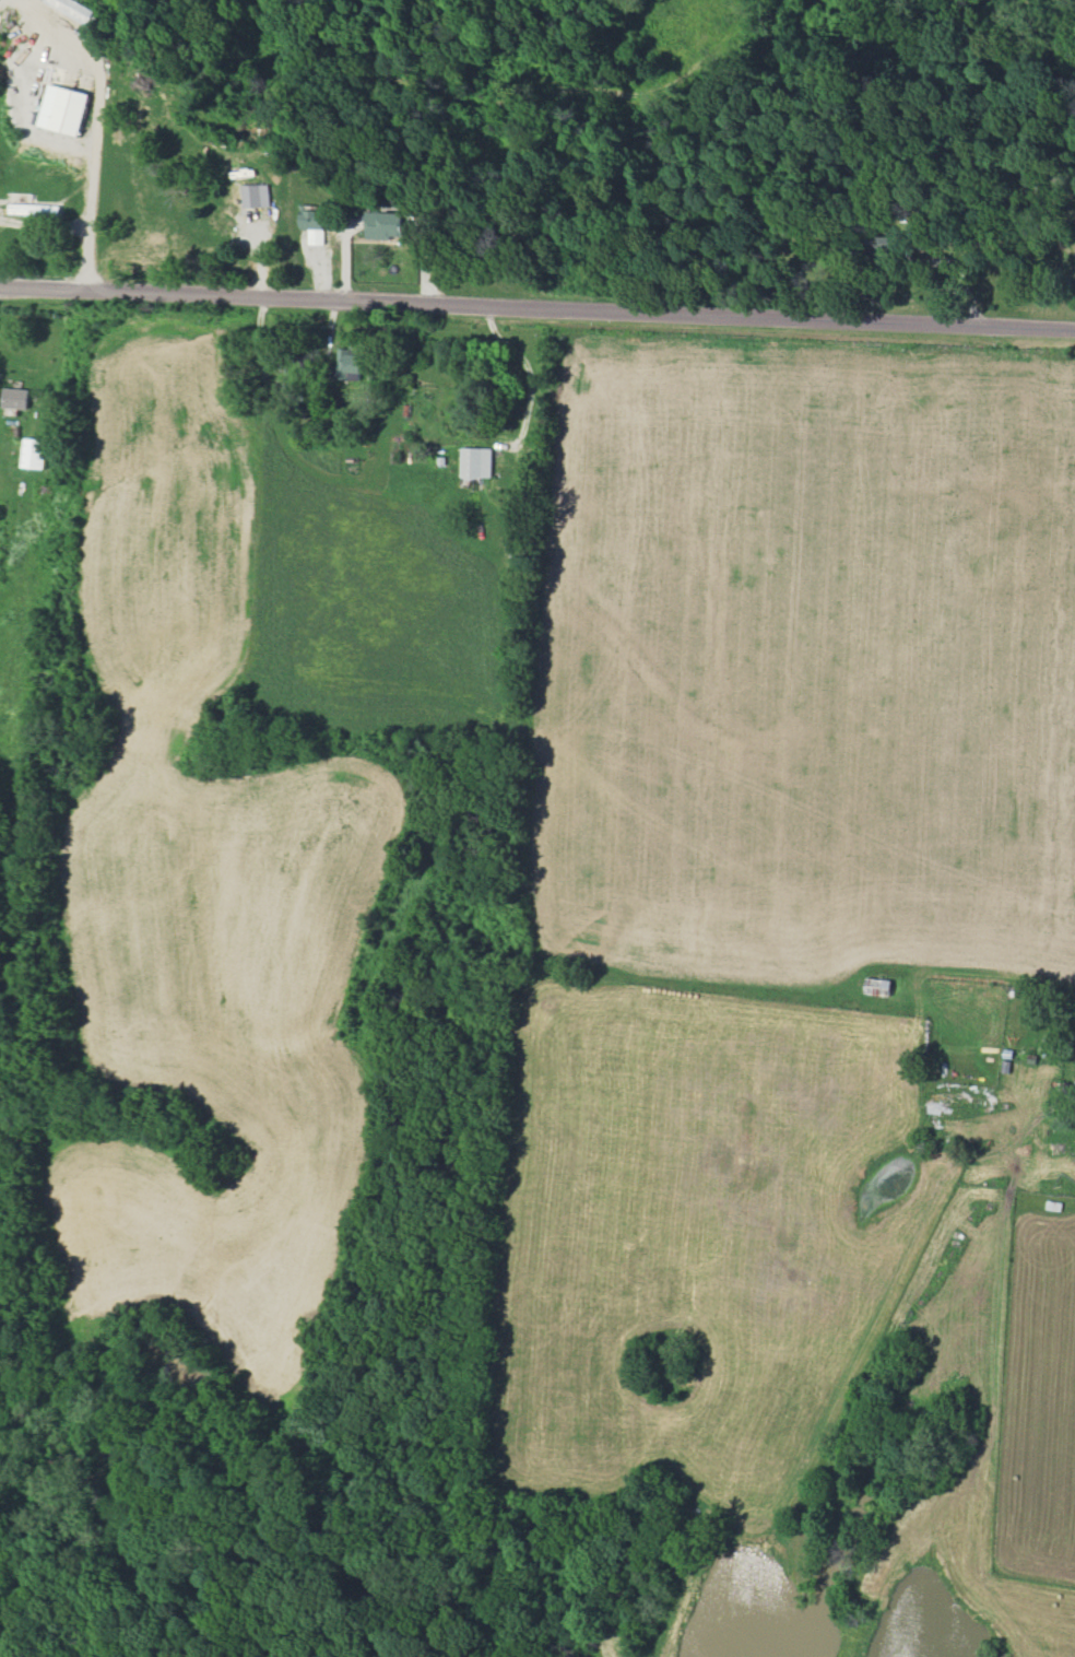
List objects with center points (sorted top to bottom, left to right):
building: (76, 9)
building: (63, 109)
road: (96, 126)
building: (258, 195)
building: (35, 209)
road: (44, 222)
building: (388, 224)
building: (314, 225)
building: (886, 245)
road: (536, 303)
building: (349, 363)
road: (525, 368)
building: (15, 398)
building: (34, 453)
building: (476, 462)
crop: (804, 657)
crop: (15, 668)
crop: (205, 878)
crop: (764, 1265)

